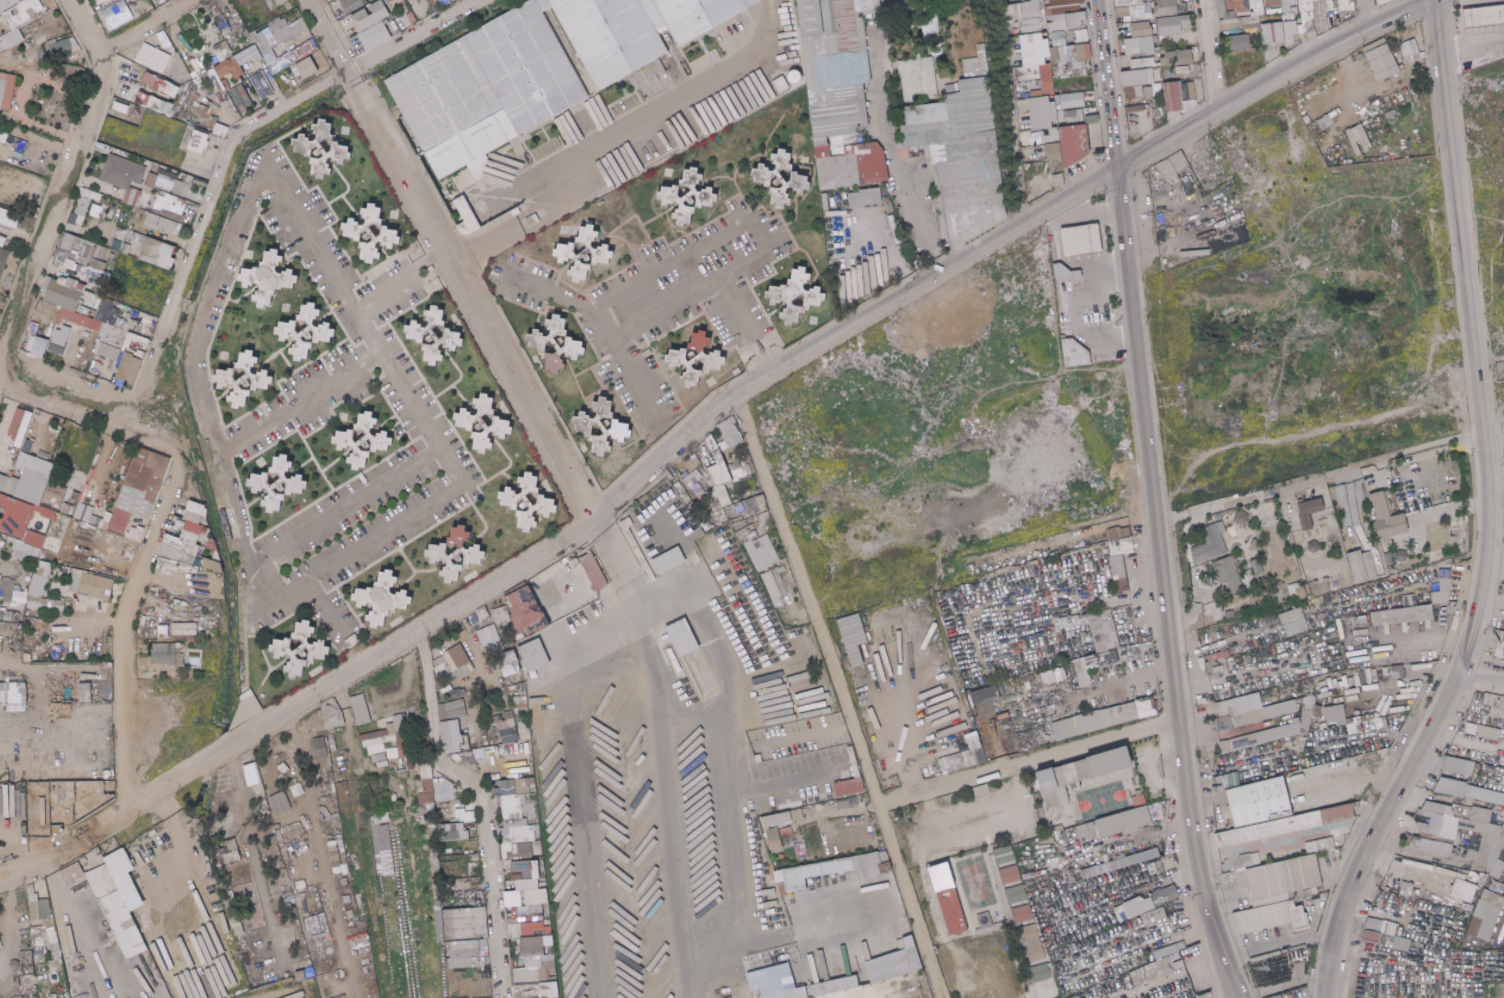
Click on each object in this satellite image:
gas station: (1473, 4)
gas station: (1081, 239)

